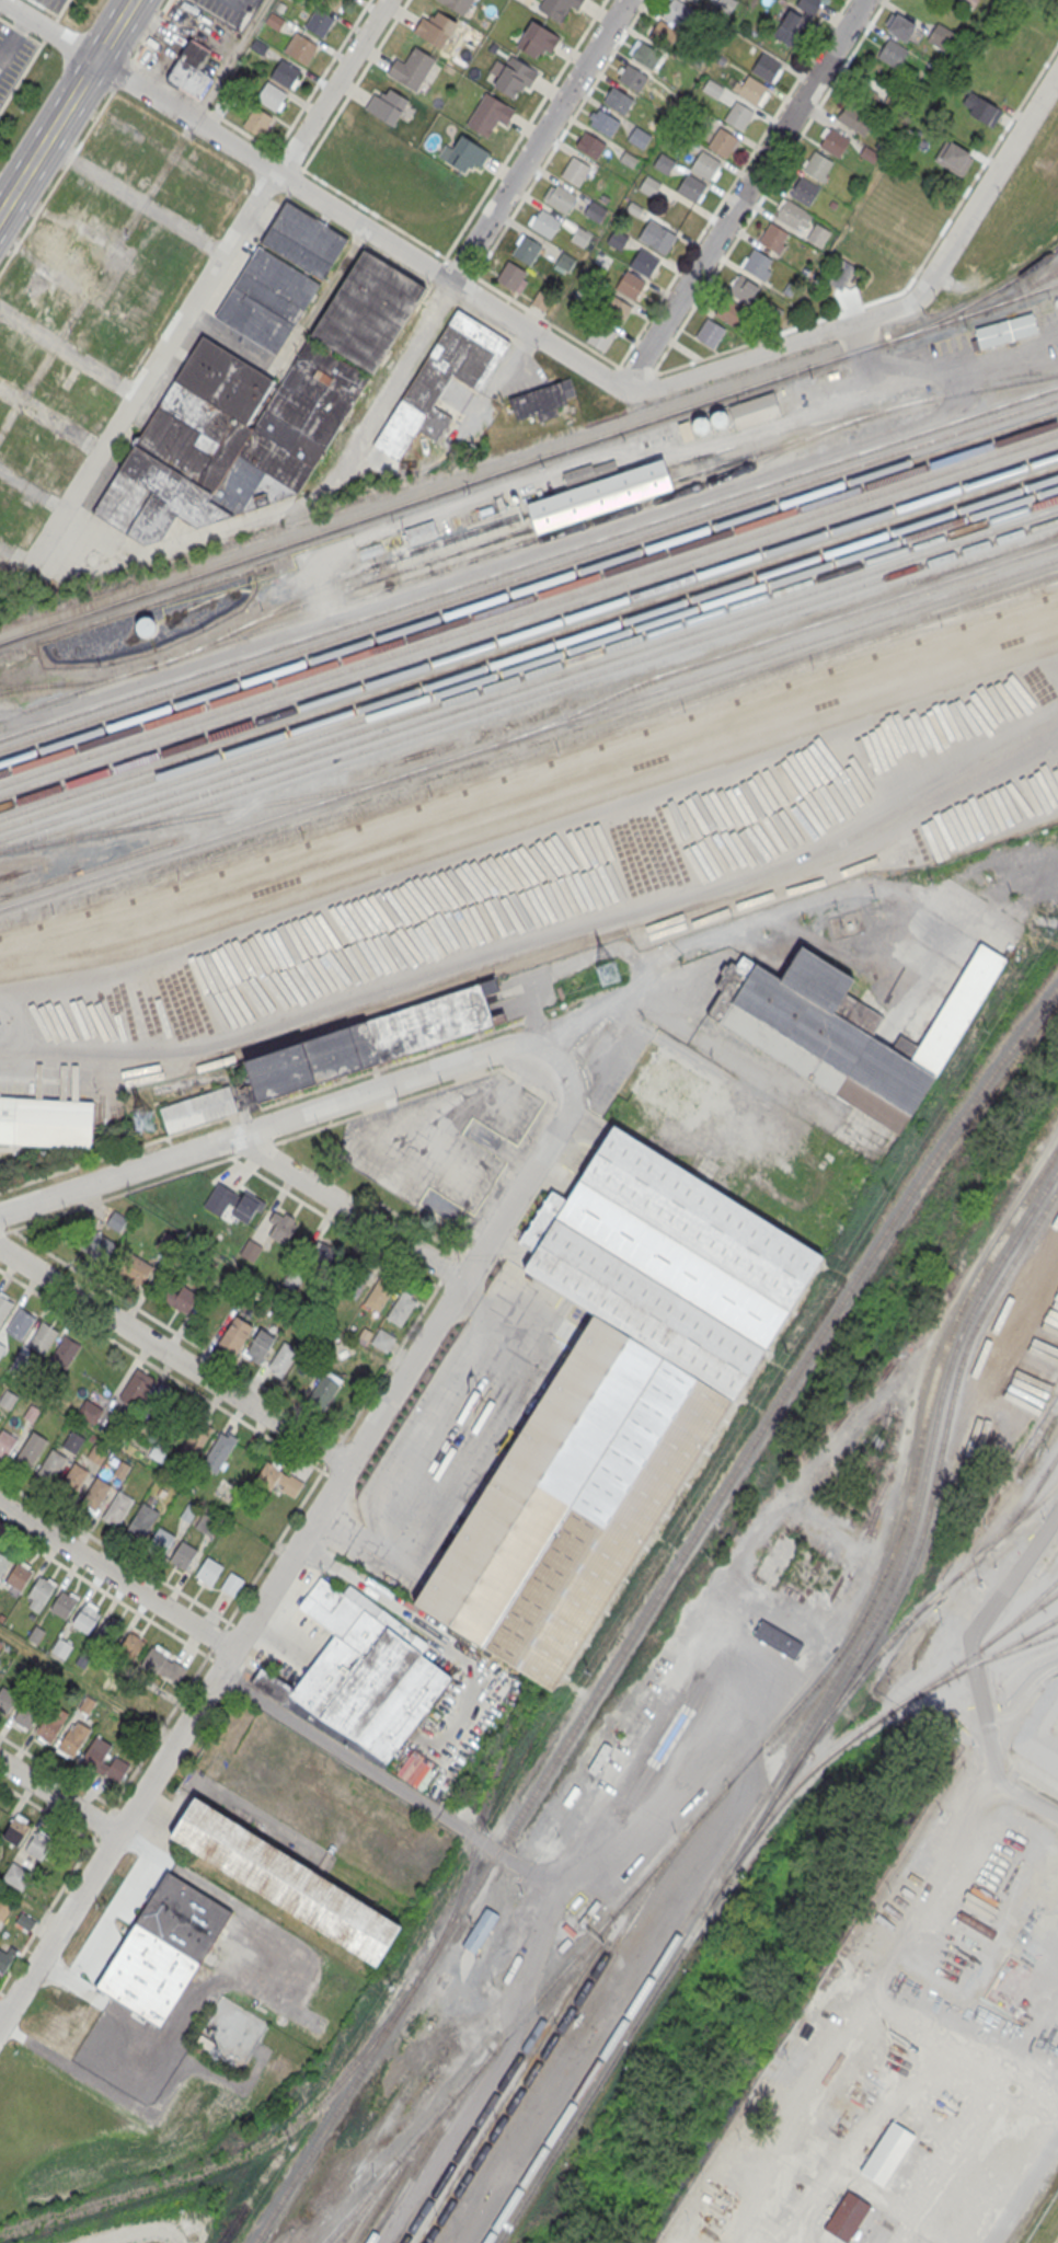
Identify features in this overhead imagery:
building: (298, 0)
building: (693, 0)
building: (968, 2)
parking lot: (54, 4)
building: (457, 4)
building: (726, 4)
building: (557, 7)
road: (45, 8)
road: (61, 10)
parking lot: (230, 10)
building: (676, 11)
road: (256, 16)
building: (798, 16)
building: (275, 20)
building: (319, 22)
building: (899, 25)
building: (435, 27)
road: (49, 30)
road: (20, 31)
road: (149, 32)
building: (664, 33)
building: (940, 35)
building: (538, 39)
building: (257, 46)
building: (300, 47)
road: (118, 50)
building: (646, 54)
building: (893, 54)
parking lot: (13, 57)
building: (722, 59)
building: (767, 67)
building: (411, 68)
building: (191, 69)
building: (285, 72)
road: (22, 74)
road: (120, 76)
building: (514, 76)
road: (321, 77)
building: (632, 78)
road: (353, 85)
building: (713, 88)
building: (750, 88)
building: (864, 91)
building: (269, 94)
building: (618, 100)
road: (204, 105)
building: (387, 105)
road: (67, 107)
building: (980, 108)
building: (490, 113)
building: (739, 115)
road: (194, 118)
building: (855, 118)
road: (94, 119)
building: (257, 120)
building: (603, 123)
road: (525, 128)
road: (560, 137)
building: (639, 137)
building: (722, 140)
building: (835, 141)
building: (590, 143)
building: (869, 153)
building: (467, 154)
building: (953, 157)
road: (70, 158)
road: (269, 158)
building: (630, 158)
road: (289, 159)
building: (664, 163)
building: (705, 164)
building: (816, 164)
building: (212, 165)
building: (574, 170)
road: (292, 183)
road: (732, 184)
building: (649, 185)
road: (769, 185)
building: (690, 186)
road: (986, 188)
building: (805, 191)
road: (314, 193)
road: (745, 193)
building: (561, 198)
building: (602, 198)
road: (137, 200)
building: (199, 204)
building: (634, 208)
building: (595, 210)
building: (676, 211)
road: (375, 214)
building: (794, 214)
road: (33, 220)
building: (545, 223)
building: (818, 234)
building: (656, 235)
building: (580, 237)
building: (773, 237)
building: (618, 238)
building: (150, 240)
building: (303, 240)
building: (62, 249)
building: (526, 250)
road: (469, 253)
building: (565, 260)
building: (644, 262)
building: (758, 264)
road: (460, 267)
road: (221, 271)
building: (840, 272)
building: (510, 274)
road: (911, 279)
building: (630, 283)
building: (744, 287)
building: (575, 292)
railway: (1008, 297)
building: (266, 299)
building: (541, 299)
railway: (977, 300)
building: (614, 309)
building: (368, 310)
building: (728, 310)
road: (545, 319)
building: (85, 326)
building: (1005, 331)
building: (710, 332)
road: (297, 336)
building: (600, 336)
road: (186, 350)
road: (767, 352)
road: (70, 354)
road: (516, 357)
building: (24, 365)
road: (637, 369)
road: (614, 373)
building: (441, 380)
building: (92, 396)
building: (542, 401)
building: (756, 410)
railway: (860, 411)
road: (51, 418)
building: (718, 419)
building: (694, 427)
railway: (802, 436)
building: (36, 437)
building: (228, 439)
railway: (528, 461)
road: (568, 462)
building: (587, 471)
road: (432, 487)
road: (32, 492)
building: (600, 496)
road: (72, 529)
building: (421, 531)
road: (553, 543)
road: (175, 548)
building: (371, 549)
railway: (529, 563)
road: (28, 564)
railway: (529, 573)
railway: (428, 574)
railway: (343, 575)
railway: (381, 576)
railway: (529, 586)
railway: (529, 597)
railway: (529, 609)
railway: (529, 620)
building: (146, 626)
railway: (529, 629)
railway: (784, 634)
railway: (529, 641)
railway: (529, 653)
railway: (529, 663)
railway: (529, 674)
railway: (544, 678)
railway: (579, 679)
railway: (78, 681)
railway: (31, 686)
railway: (529, 733)
railway: (529, 751)
railway: (530, 769)
railway: (529, 784)
railway: (531, 801)
railway: (204, 813)
railway: (531, 816)
railway: (85, 869)
road: (804, 907)
railway: (548, 951)
power tower: (610, 973)
building: (869, 1017)
road: (590, 1021)
building: (370, 1040)
building: (674, 1086)
building: (198, 1111)
road: (284, 1120)
building: (48, 1121)
power tower: (143, 1123)
road: (266, 1143)
parking lot: (507, 1173)
building: (230, 1201)
road: (347, 1209)
road: (334, 1220)
building: (116, 1221)
building: (280, 1228)
building: (96, 1245)
building: (322, 1254)
building: (674, 1263)
building: (135, 1269)
building: (355, 1279)
building: (379, 1293)
building: (179, 1297)
building: (4, 1307)
building: (401, 1309)
building: (20, 1323)
road: (177, 1333)
building: (235, 1334)
building: (42, 1337)
building: (383, 1341)
building: (258, 1345)
building: (1, 1348)
building: (65, 1351)
road: (174, 1355)
building: (281, 1358)
road: (160, 1370)
building: (136, 1385)
building: (323, 1391)
building: (8, 1397)
building: (160, 1400)
building: (89, 1411)
building: (0, 1418)
building: (195, 1439)
building: (5, 1441)
building: (73, 1441)
building: (30, 1449)
building: (217, 1452)
building: (96, 1453)
building: (50, 1465)
building: (122, 1469)
building: (72, 1480)
building: (279, 1481)
building: (94, 1494)
building: (574, 1503)
building: (117, 1507)
railway: (1020, 1510)
building: (141, 1520)
building: (160, 1540)
road: (117, 1551)
building: (183, 1553)
road: (292, 1553)
building: (2, 1561)
road: (1023, 1564)
building: (208, 1569)
road: (116, 1574)
building: (20, 1576)
building: (231, 1583)
building: (39, 1592)
road: (112, 1595)
railway: (1042, 1599)
building: (64, 1604)
railway: (924, 1604)
railway: (647, 1609)
building: (85, 1618)
road: (239, 1627)
road: (222, 1629)
building: (108, 1633)
building: (778, 1641)
building: (130, 1646)
building: (61, 1647)
building: (152, 1659)
building: (360, 1677)
road: (88, 1684)
building: (5, 1701)
building: (23, 1716)
railway: (875, 1719)
railway: (808, 1723)
building: (50, 1725)
railway: (815, 1733)
building: (73, 1738)
railway: (766, 1739)
building: (95, 1752)
building: (599, 1758)
road: (56, 1770)
building: (116, 1770)
road: (377, 1774)
road: (58, 1796)
road: (667, 1808)
road: (46, 1810)
railway: (478, 1828)
building: (15, 1832)
building: (38, 1845)
building: (15, 1875)
building: (287, 1879)
building: (3, 1908)
building: (186, 1917)
building: (25, 1920)
building: (481, 1930)
building: (231, 1949)
building: (5, 1957)
road: (7, 1994)
road: (0, 2018)
railway: (557, 2032)
railway: (505, 2078)
railway: (429, 2144)
building: (887, 2153)
railway: (238, 2156)
railway: (402, 2169)
road: (1023, 2188)
railway: (368, 2200)
building: (846, 2218)

